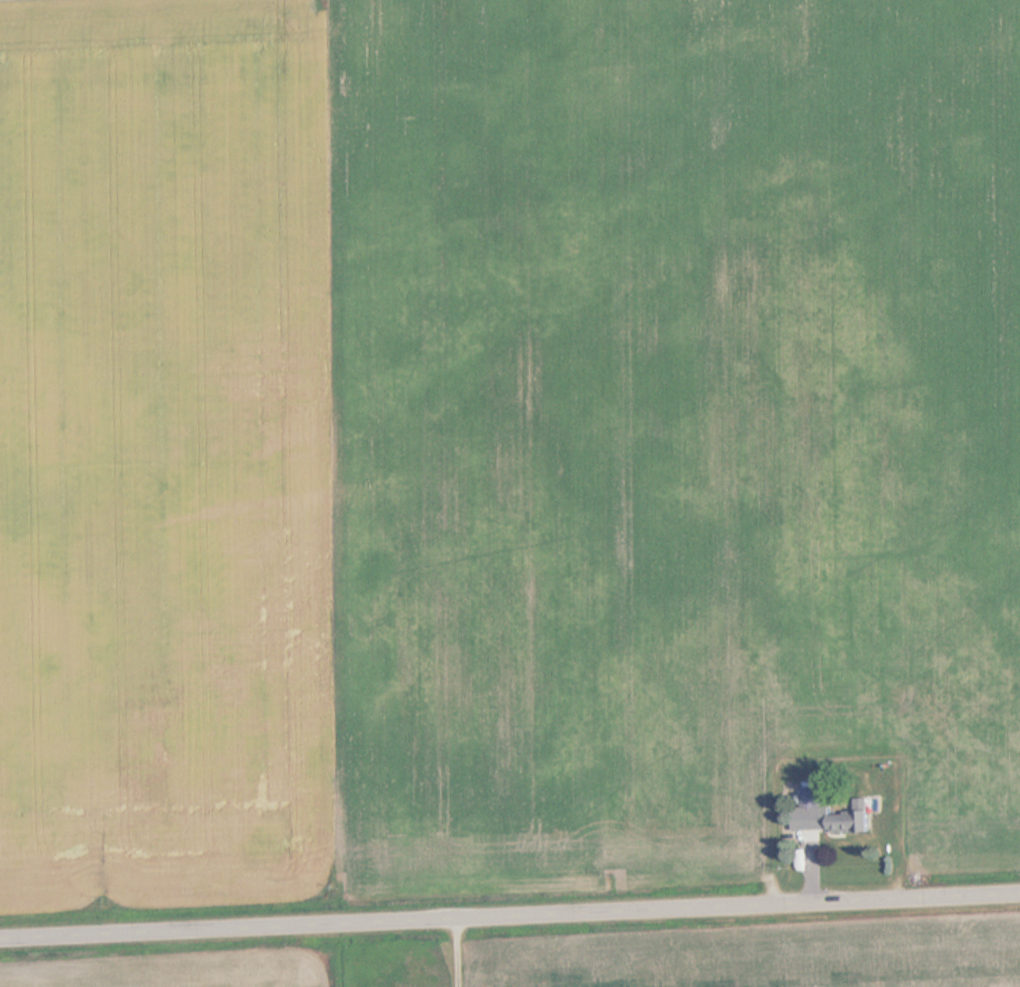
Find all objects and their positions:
building: (812, 797)
building: (855, 821)
road: (510, 915)

